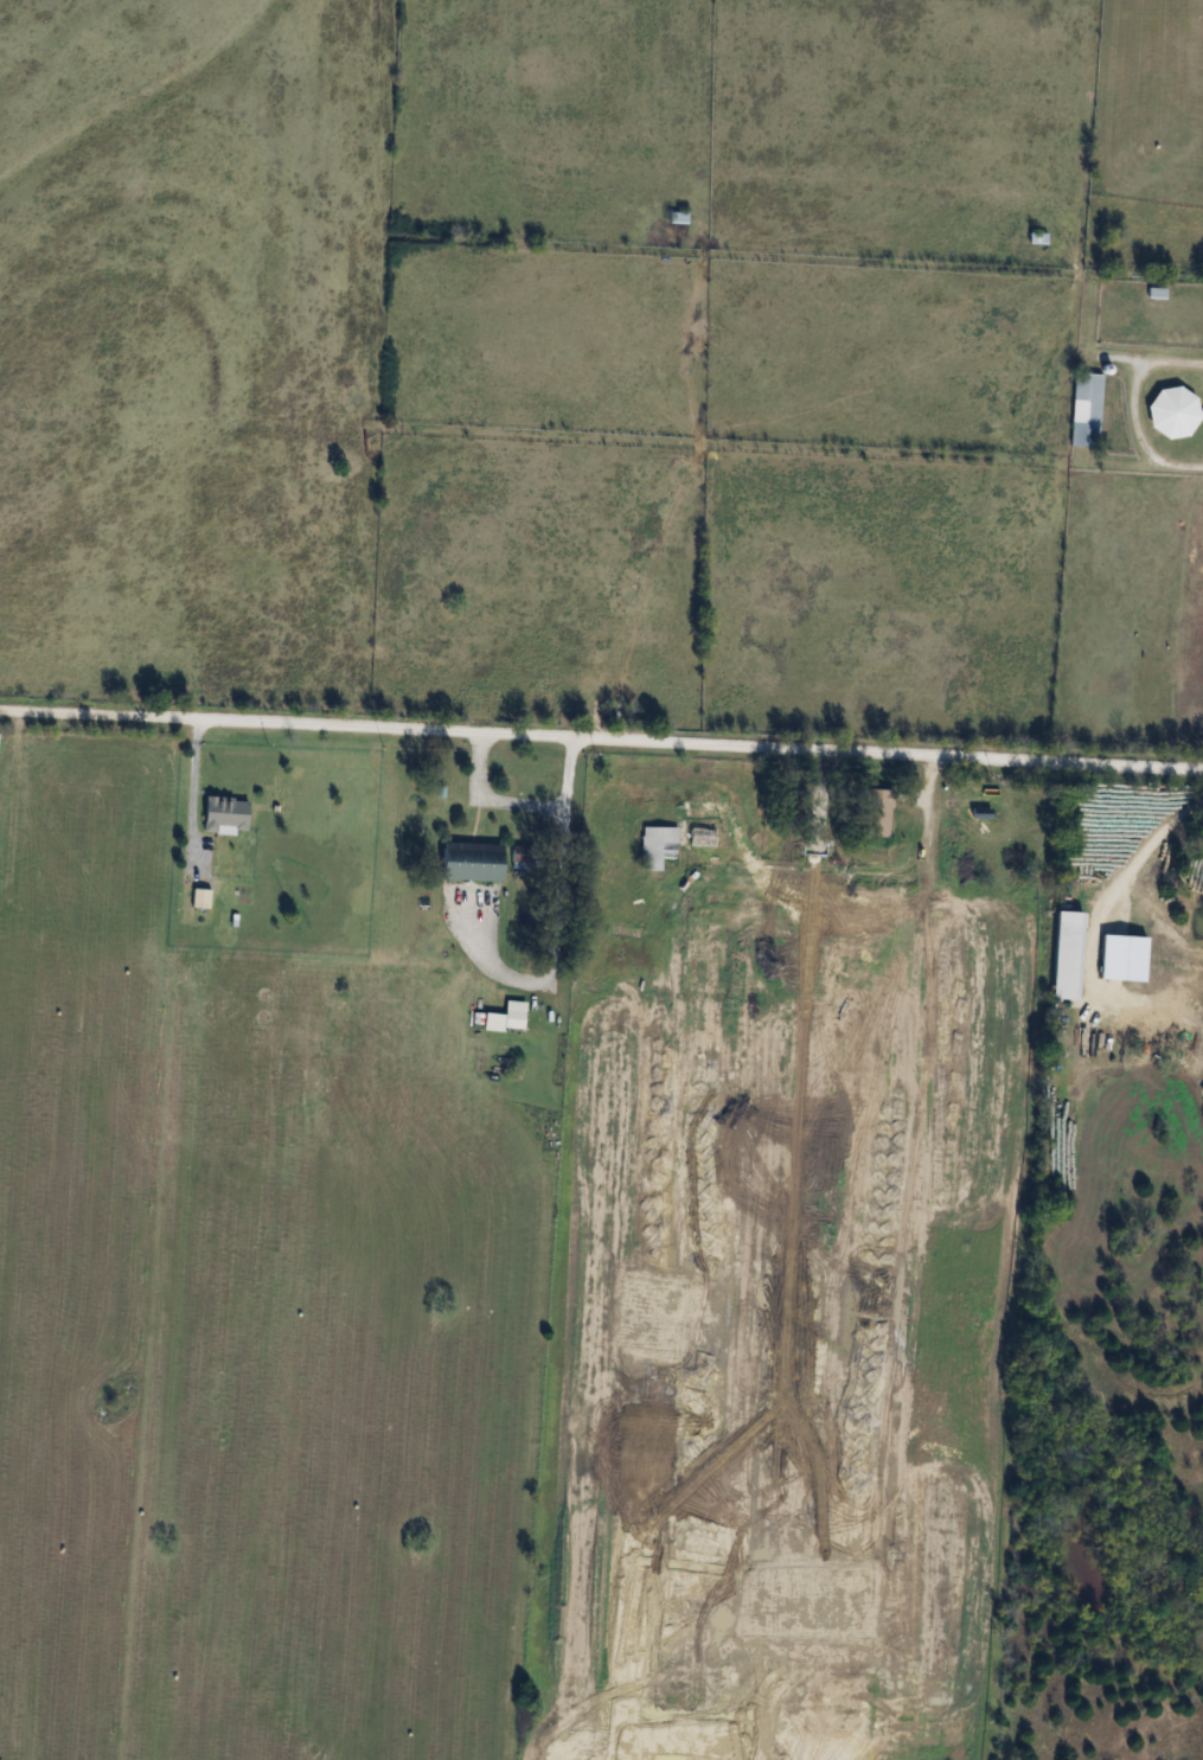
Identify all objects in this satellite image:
building: (677, 218)
building: (1086, 410)
road: (1131, 410)
building: (1173, 412)
building: (1005, 484)
road: (601, 738)
road: (196, 792)
road: (526, 806)
building: (876, 813)
building: (225, 814)
building: (702, 837)
building: (657, 845)
road: (1146, 850)
building: (471, 860)
building: (1115, 954)
building: (1062, 971)

